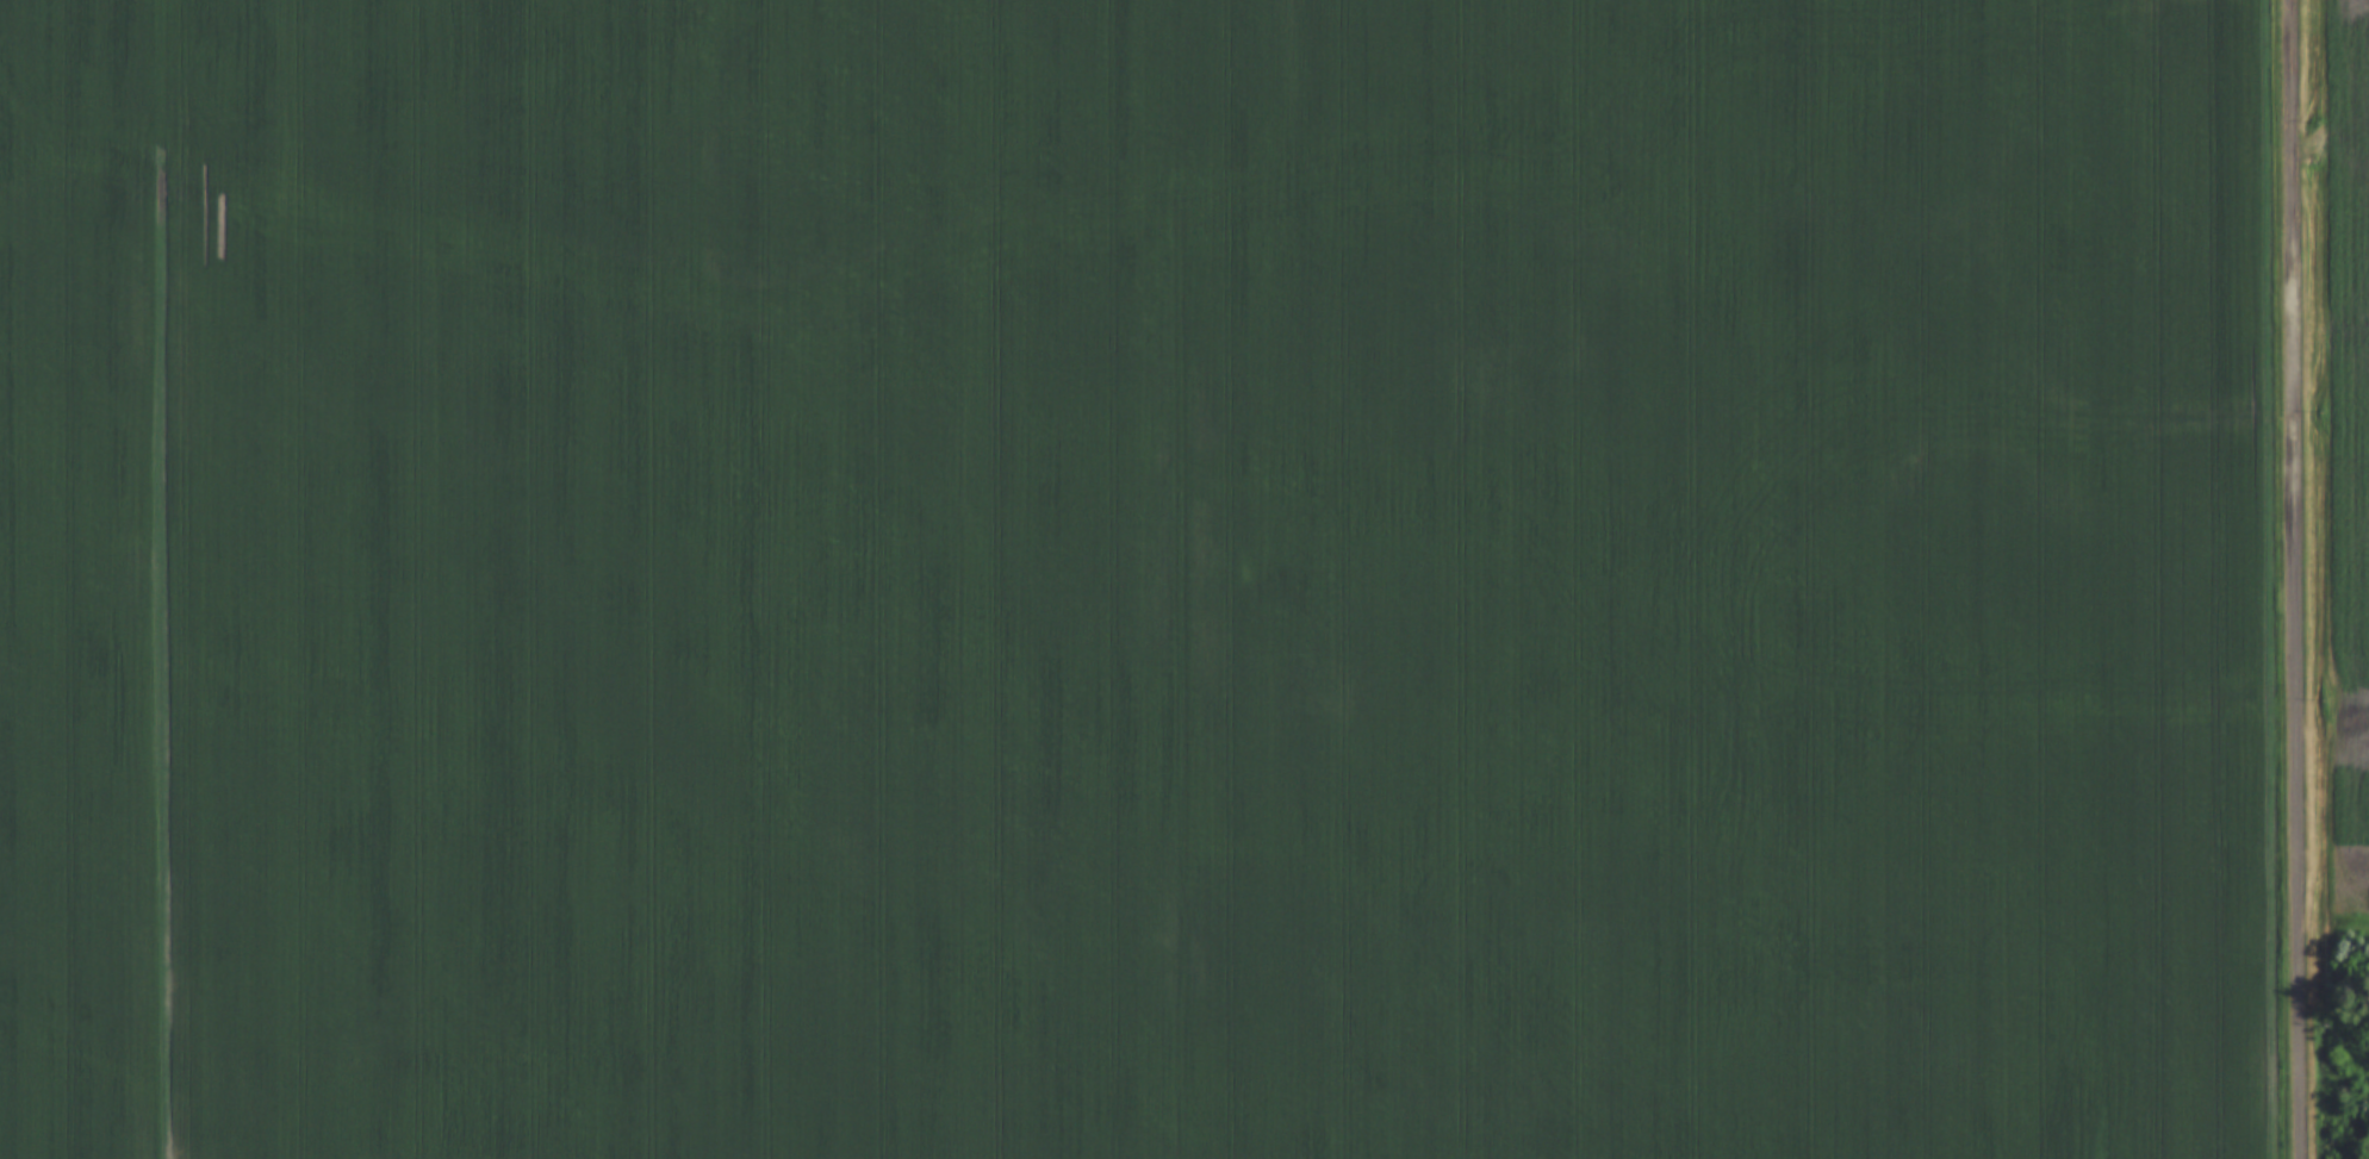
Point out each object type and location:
road: (2293, 579)

